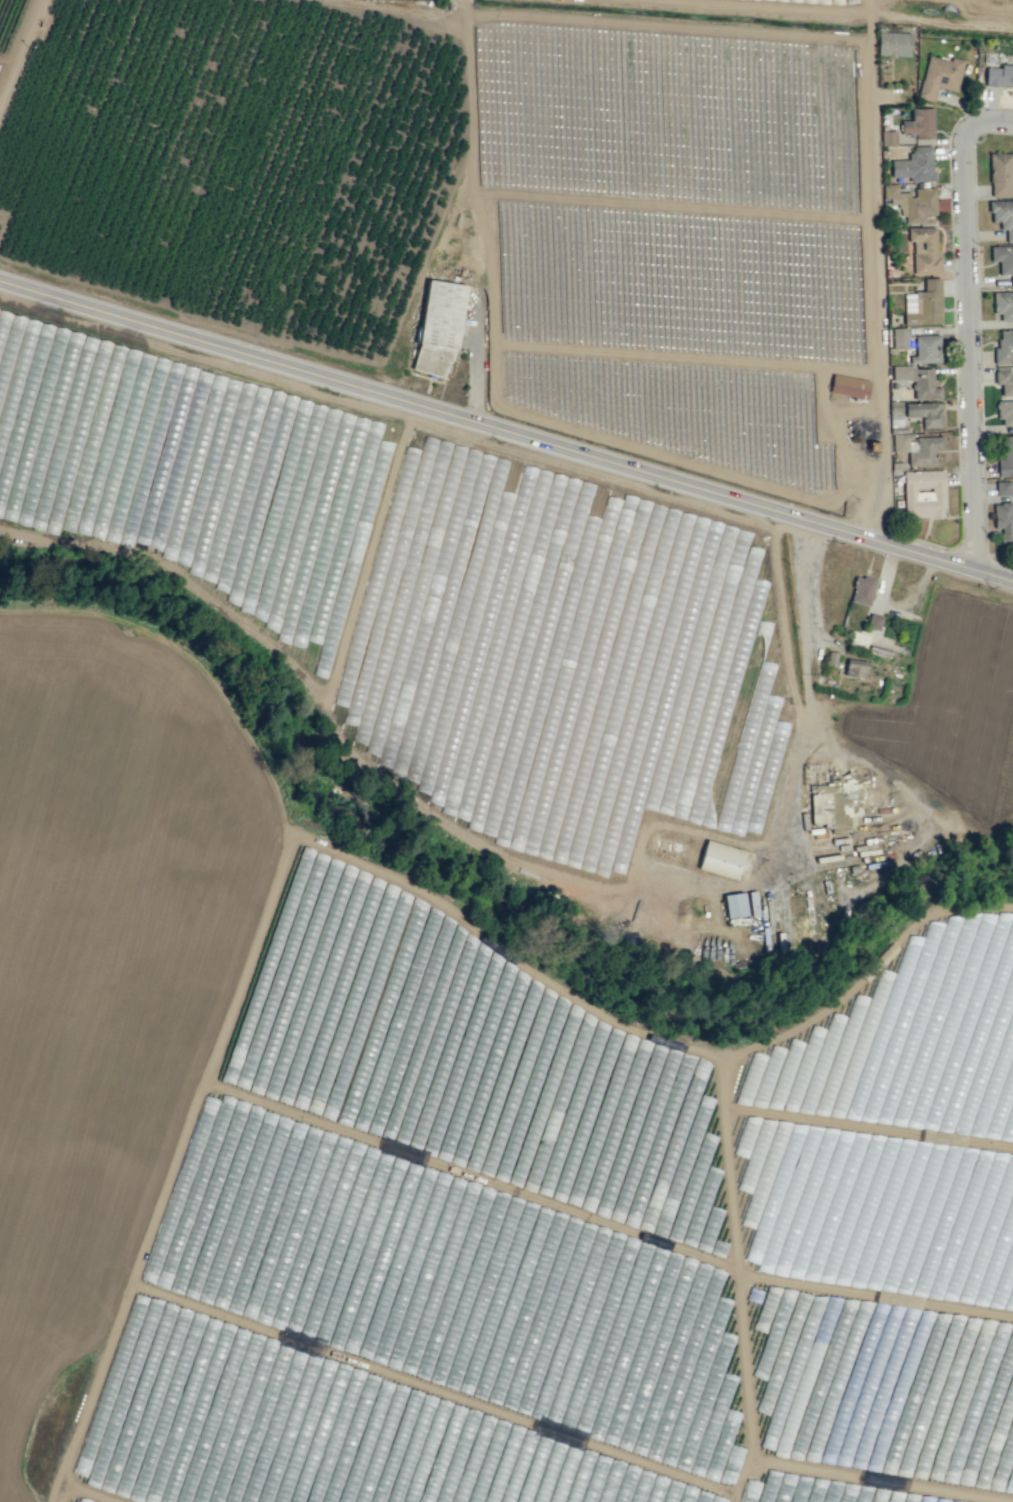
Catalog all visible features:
road: (761, 7)
building: (893, 43)
road: (19, 51)
building: (939, 75)
building: (999, 76)
building: (919, 123)
building: (887, 137)
building: (914, 165)
building: (1000, 174)
building: (911, 202)
building: (1003, 216)
building: (923, 249)
building: (1003, 260)
road: (874, 270)
building: (923, 304)
building: (1003, 305)
building: (438, 326)
road: (976, 333)
building: (899, 337)
building: (1004, 347)
road: (217, 348)
building: (926, 349)
road: (477, 368)
building: (1003, 380)
building: (918, 381)
building: (849, 386)
road: (831, 412)
building: (1005, 412)
building: (917, 448)
building: (1006, 457)
building: (1002, 487)
building: (923, 493)
road: (723, 497)
building: (1003, 522)
building: (861, 590)
building: (873, 621)
building: (831, 658)
building: (854, 668)
crop: (980, 719)
crop: (431, 724)
building: (719, 859)
building: (733, 904)
building: (850, 1047)
crop: (885, 1190)
building: (787, 1495)

